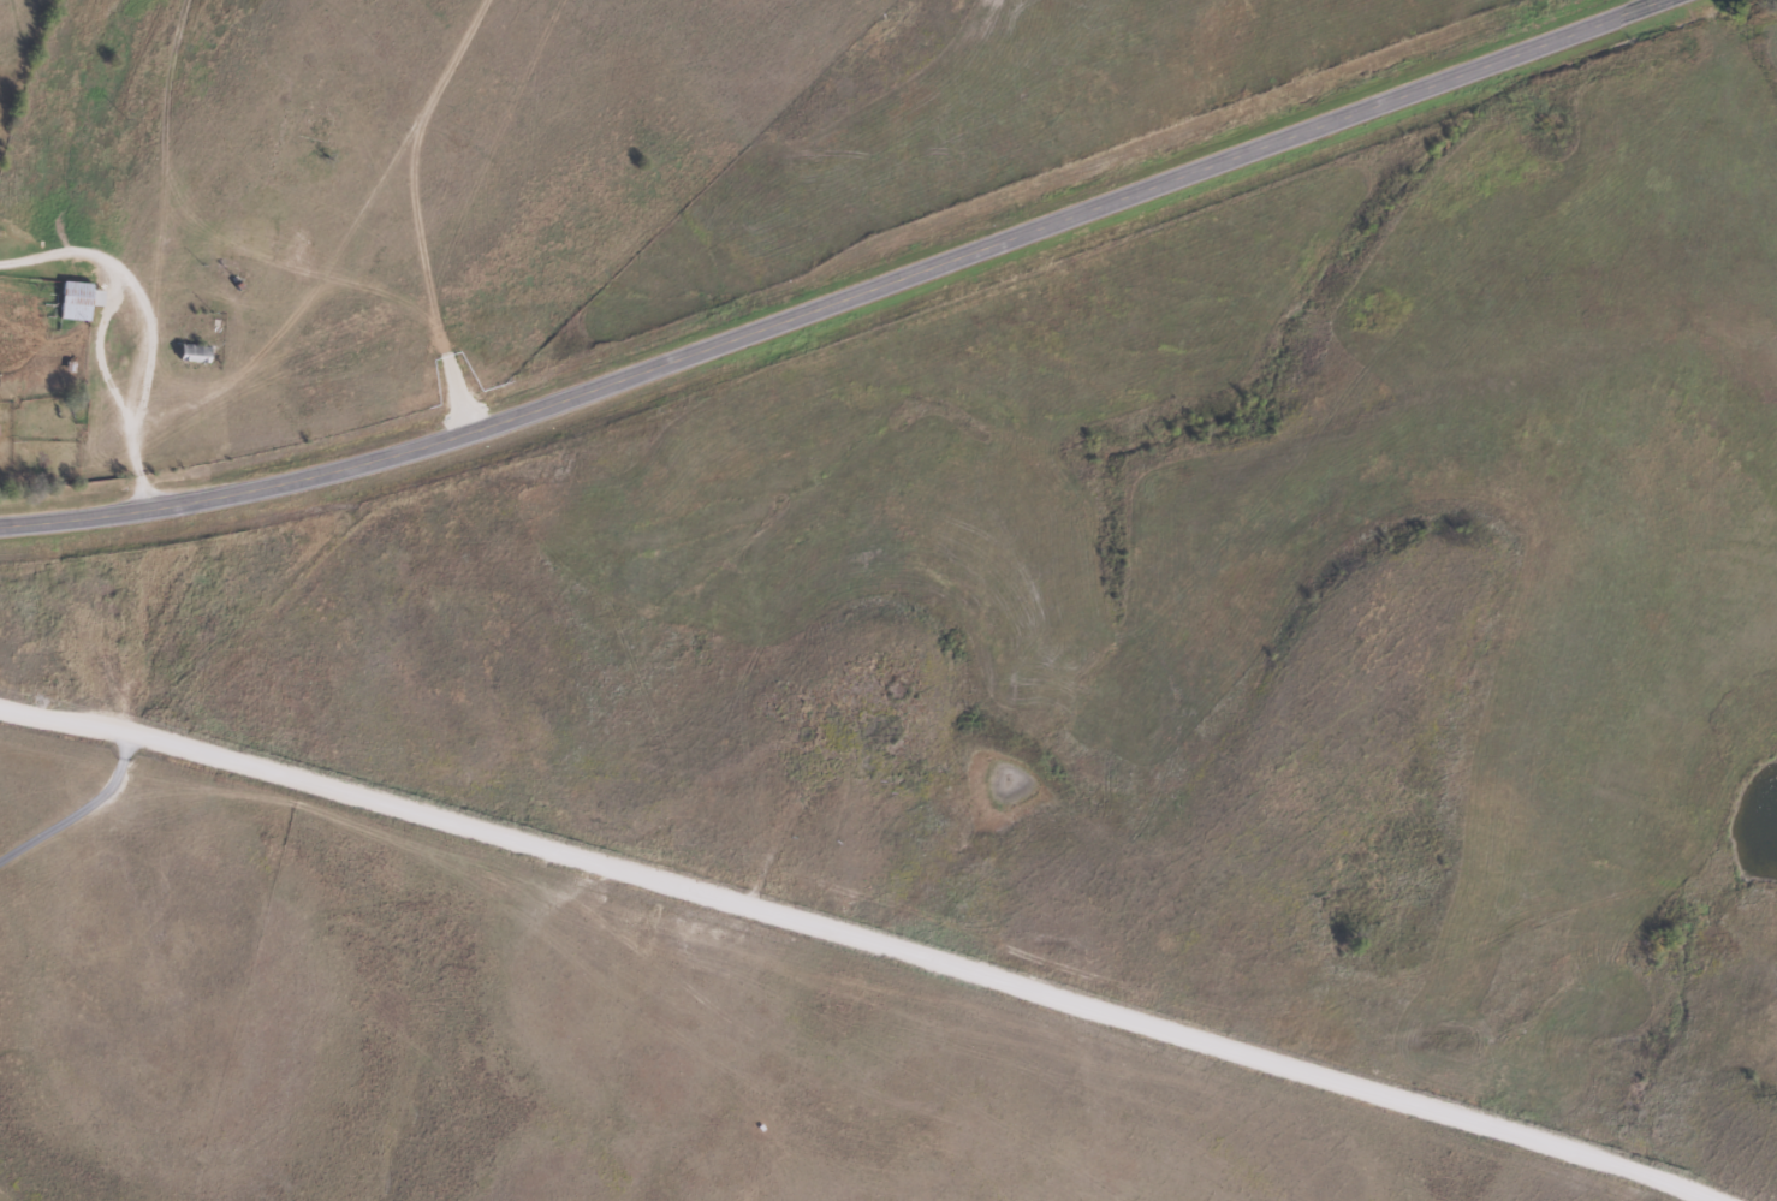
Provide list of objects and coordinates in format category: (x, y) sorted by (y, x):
road: (838, 297)
building: (81, 301)
building: (195, 353)
road: (70, 793)
road: (854, 947)

